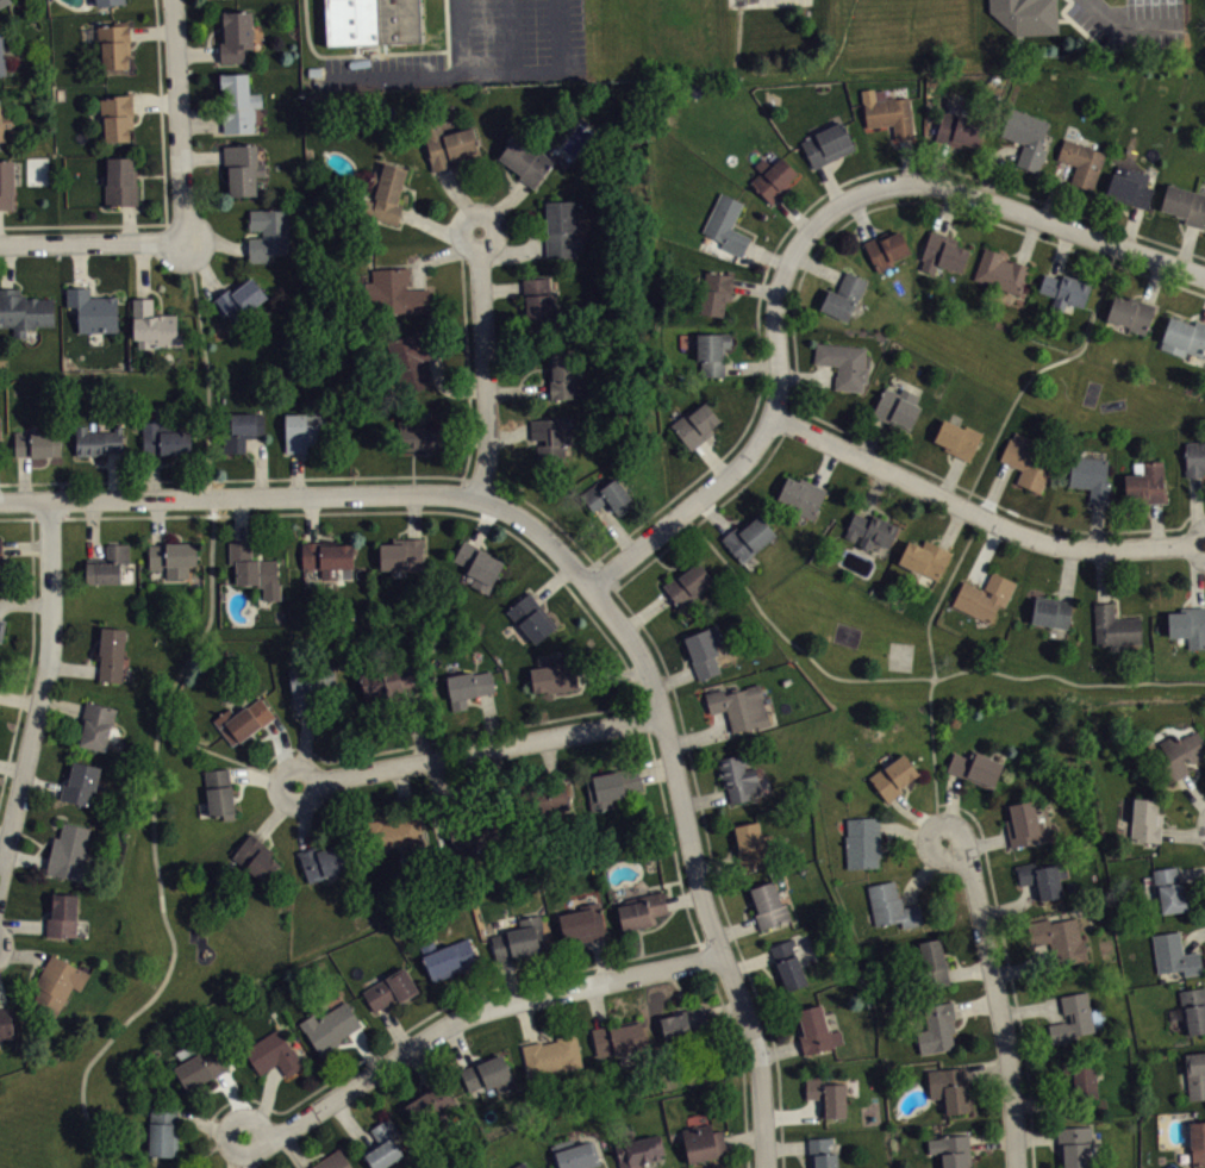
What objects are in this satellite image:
building: (2, 1)
building: (107, 1)
parking lot: (775, 2)
building: (1025, 14)
road: (1128, 20)
building: (372, 21)
parking lot: (1131, 21)
road: (151, 31)
building: (236, 35)
road: (460, 36)
road: (511, 36)
parking lot: (527, 40)
building: (1, 44)
building: (114, 44)
road: (198, 51)
road: (379, 54)
road: (482, 71)
road: (154, 101)
building: (237, 102)
building: (888, 110)
building: (117, 114)
road: (200, 118)
road: (161, 119)
road: (179, 119)
building: (5, 120)
building: (961, 125)
building: (1026, 136)
building: (445, 139)
building: (826, 143)
road: (201, 155)
building: (525, 160)
road: (906, 160)
building: (1081, 160)
road: (937, 161)
road: (993, 165)
building: (243, 167)
building: (772, 176)
building: (121, 180)
road: (830, 182)
road: (910, 182)
building: (6, 183)
building: (1129, 183)
road: (1054, 189)
building: (385, 193)
road: (460, 196)
building: (1185, 202)
road: (501, 204)
road: (945, 210)
road: (794, 212)
road: (862, 216)
road: (794, 219)
road: (127, 221)
road: (82, 223)
building: (726, 223)
road: (1130, 224)
road: (437, 227)
building: (562, 227)
building: (269, 231)
road: (1028, 238)
road: (90, 241)
road: (216, 241)
road: (1187, 244)
building: (885, 248)
road: (816, 249)
road: (507, 251)
building: (942, 251)
road: (1061, 251)
road: (766, 254)
road: (438, 255)
road: (77, 263)
road: (6, 264)
road: (201, 264)
road: (816, 264)
road: (142, 268)
building: (1000, 269)
road: (1153, 280)
road: (502, 287)
road: (755, 287)
building: (716, 289)
building: (1064, 289)
building: (395, 291)
building: (843, 294)
building: (239, 299)
building: (541, 302)
building: (93, 307)
building: (24, 310)
building: (1131, 313)
road: (1204, 319)
building: (154, 323)
building: (1184, 336)
building: (712, 351)
building: (413, 356)
building: (844, 363)
road: (485, 364)
road: (751, 366)
road: (207, 367)
road: (1038, 368)
road: (468, 369)
park: (1039, 370)
building: (561, 371)
road: (807, 376)
road: (449, 388)
road: (517, 388)
building: (898, 406)
building: (695, 424)
building: (302, 429)
building: (242, 430)
road: (510, 432)
building: (1, 433)
building: (420, 433)
building: (166, 435)
road: (468, 435)
road: (870, 436)
building: (957, 437)
building: (550, 438)
building: (98, 439)
building: (37, 442)
building: (1194, 457)
road: (712, 458)
building: (1029, 458)
road: (261, 463)
road: (825, 464)
road: (296, 473)
road: (113, 474)
road: (152, 474)
road: (311, 475)
road: (950, 475)
road: (23, 476)
building: (1091, 476)
building: (1145, 480)
road: (993, 487)
road: (872, 492)
building: (801, 493)
building: (608, 495)
road: (238, 498)
road: (989, 498)
road: (62, 499)
road: (1195, 504)
road: (688, 507)
road: (713, 513)
road: (413, 514)
road: (981, 514)
road: (311, 518)
road: (239, 519)
road: (155, 521)
road: (1155, 523)
road: (482, 524)
road: (1095, 525)
road: (951, 526)
road: (92, 529)
road: (616, 529)
building: (870, 530)
road: (539, 531)
building: (747, 537)
road: (982, 551)
building: (0, 554)
building: (402, 554)
building: (326, 556)
building: (173, 557)
building: (925, 557)
building: (107, 563)
building: (479, 564)
building: (254, 568)
road: (607, 570)
road: (1068, 573)
road: (1101, 575)
road: (1198, 579)
road: (554, 581)
building: (688, 582)
road: (575, 595)
building: (984, 595)
road: (25, 601)
building: (1051, 610)
road: (645, 611)
building: (531, 617)
building: (1188, 624)
building: (1113, 625)
building: (1, 626)
building: (4, 636)
building: (704, 649)
park: (911, 651)
building: (111, 652)
park: (900, 654)
road: (30, 658)
building: (1, 667)
road: (73, 667)
road: (934, 672)
road: (611, 673)
building: (554, 675)
building: (1, 676)
road: (910, 676)
building: (388, 677)
road: (673, 677)
building: (310, 683)
building: (467, 685)
road: (42, 687)
building: (394, 689)
road: (19, 698)
road: (62, 704)
building: (739, 705)
building: (243, 718)
road: (418, 722)
building: (95, 724)
road: (704, 736)
road: (442, 737)
road: (305, 748)
road: (480, 750)
road: (282, 751)
building: (1179, 752)
road: (227, 756)
road: (550, 758)
road: (495, 762)
road: (12, 766)
building: (975, 767)
road: (656, 769)
building: (892, 775)
building: (737, 776)
road: (263, 777)
building: (81, 782)
road: (42, 783)
building: (612, 785)
road: (402, 789)
road: (1191, 789)
building: (219, 792)
building: (547, 794)
road: (704, 798)
road: (438, 801)
road: (950, 806)
road: (277, 811)
road: (307, 814)
road: (920, 816)
building: (1144, 818)
building: (1024, 823)
building: (480, 824)
building: (394, 831)
road: (1182, 832)
road: (911, 833)
building: (862, 841)
road: (986, 841)
building: (751, 843)
road: (154, 844)
building: (69, 851)
road: (26, 857)
building: (256, 857)
building: (320, 860)
road: (717, 863)
road: (695, 869)
road: (714, 872)
road: (924, 872)
road: (1191, 872)
building: (1039, 877)
building: (1169, 888)
road: (683, 899)
building: (770, 904)
building: (891, 904)
road: (1010, 904)
building: (642, 908)
building: (63, 914)
building: (582, 922)
road: (21, 924)
road: (736, 927)
building: (520, 938)
road: (1193, 938)
building: (1059, 939)
building: (1174, 952)
road: (23, 954)
building: (448, 956)
road: (601, 957)
road: (750, 961)
building: (932, 961)
building: (787, 964)
road: (1023, 964)
road: (969, 969)
road: (1007, 969)
road: (510, 979)
building: (57, 983)
road: (477, 986)
building: (391, 988)
road: (995, 997)
road: (0, 1000)
road: (597, 1003)
road: (975, 1004)
road: (724, 1008)
building: (1193, 1008)
road: (436, 1010)
road: (1030, 1010)
road: (469, 1013)
building: (1073, 1017)
road: (526, 1020)
building: (6, 1022)
building: (685, 1024)
building: (330, 1026)
building: (937, 1026)
road: (394, 1028)
building: (816, 1029)
building: (617, 1036)
road: (458, 1043)
road: (367, 1048)
road: (779, 1049)
building: (273, 1051)
building: (552, 1054)
building: (200, 1066)
road: (424, 1066)
road: (988, 1070)
building: (488, 1074)
building: (1195, 1074)
building: (1075, 1076)
building: (949, 1086)
building: (826, 1095)
road: (237, 1100)
road: (1045, 1100)
road: (266, 1101)
building: (431, 1106)
road: (793, 1113)
park: (38, 1122)
road: (211, 1124)
road: (351, 1124)
building: (163, 1130)
road: (1036, 1136)
road: (743, 1137)
building: (701, 1141)
road: (993, 1141)
building: (1197, 1141)
building: (383, 1144)
road: (786, 1145)
building: (1074, 1145)
road: (212, 1147)
road: (294, 1149)
road: (238, 1150)
road: (248, 1150)
building: (637, 1150)
building: (953, 1150)
building: (822, 1153)
building: (574, 1154)
building: (332, 1160)
building: (519, 1164)

